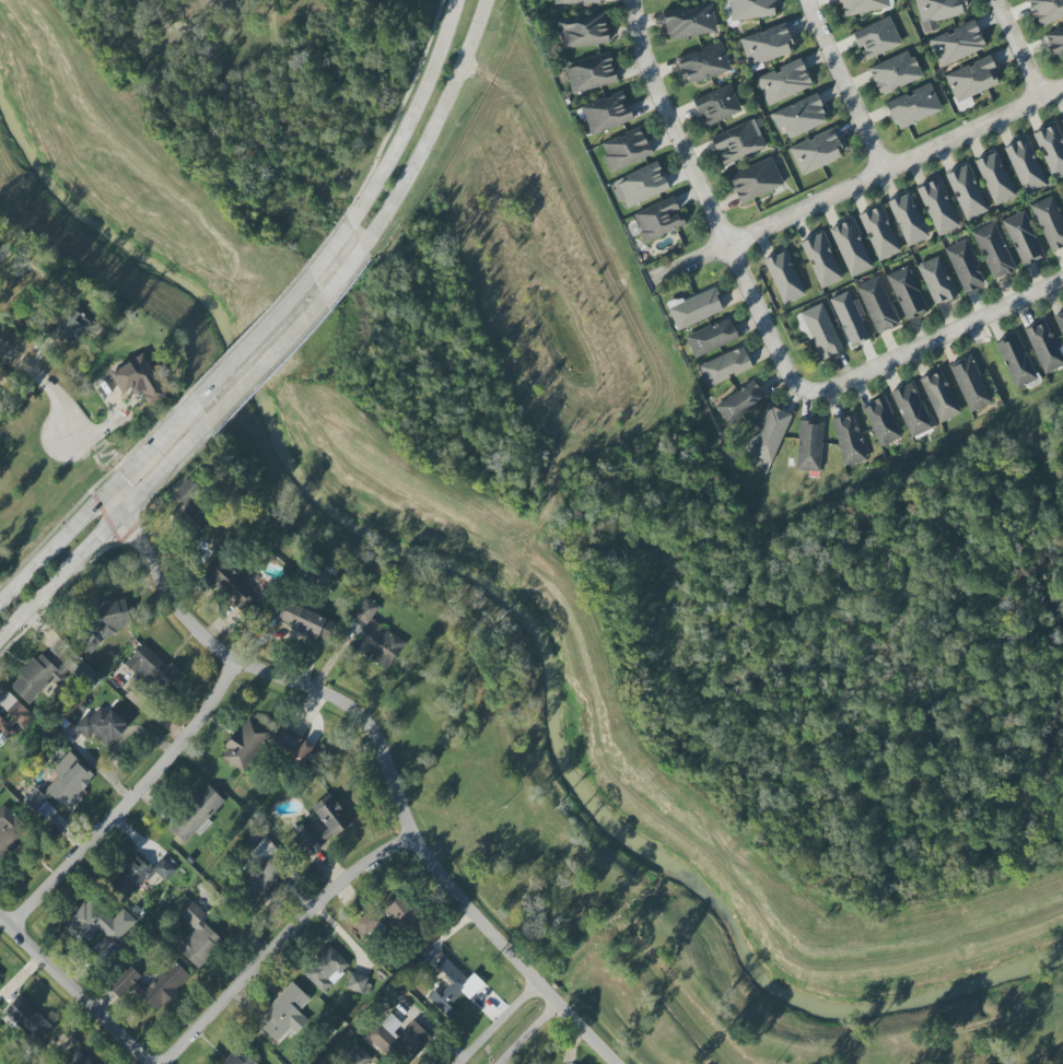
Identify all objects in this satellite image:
building: (575, 1)
building: (862, 5)
building: (751, 9)
building: (1047, 10)
building: (937, 12)
building: (689, 22)
building: (582, 31)
building: (876, 38)
building: (1055, 40)
building: (957, 44)
building: (766, 45)
road: (1019, 47)
building: (703, 63)
building: (895, 72)
building: (591, 73)
building: (971, 79)
building: (783, 82)
road: (845, 84)
building: (716, 105)
building: (912, 107)
building: (606, 113)
road: (411, 116)
building: (799, 116)
building: (1062, 121)
road: (436, 125)
building: (738, 142)
building: (1051, 150)
building: (626, 151)
building: (816, 152)
building: (1025, 166)
building: (994, 178)
building: (755, 180)
road: (854, 182)
building: (642, 185)
building: (966, 192)
road: (708, 204)
building: (937, 207)
building: (658, 219)
building: (907, 219)
building: (1049, 222)
building: (878, 233)
building: (1023, 238)
building: (850, 247)
building: (993, 250)
building: (820, 260)
building: (965, 266)
building: (783, 277)
building: (936, 280)
building: (906, 293)
building: (877, 305)
building: (696, 307)
road: (276, 316)
building: (849, 318)
building: (1060, 321)
building: (69, 324)
building: (820, 331)
road: (294, 332)
building: (711, 337)
road: (937, 339)
building: (1043, 347)
building: (1015, 360)
building: (724, 366)
building: (142, 379)
building: (970, 384)
road: (44, 386)
building: (939, 396)
building: (0, 400)
building: (740, 402)
building: (911, 410)
building: (881, 422)
building: (769, 434)
building: (849, 440)
building: (808, 445)
building: (187, 492)
road: (100, 503)
building: (191, 521)
road: (106, 529)
building: (232, 587)
river: (526, 615)
building: (302, 619)
building: (106, 621)
building: (374, 636)
building: (152, 667)
building: (15, 710)
building: (103, 724)
building: (5, 729)
building: (244, 745)
building: (292, 745)
road: (384, 753)
building: (61, 786)
road: (138, 799)
building: (196, 814)
building: (331, 815)
building: (9, 831)
building: (308, 840)
building: (163, 868)
building: (129, 877)
building: (261, 880)
building: (399, 913)
building: (96, 923)
building: (370, 926)
building: (198, 937)
road: (289, 942)
building: (326, 969)
building: (0, 974)
building: (355, 982)
road: (81, 983)
building: (152, 984)
building: (453, 987)
building: (285, 1013)
building: (27, 1019)
building: (390, 1024)
road: (499, 1024)
road: (528, 1033)
building: (411, 1040)
building: (358, 1055)
building: (75, 1057)
building: (238, 1057)

